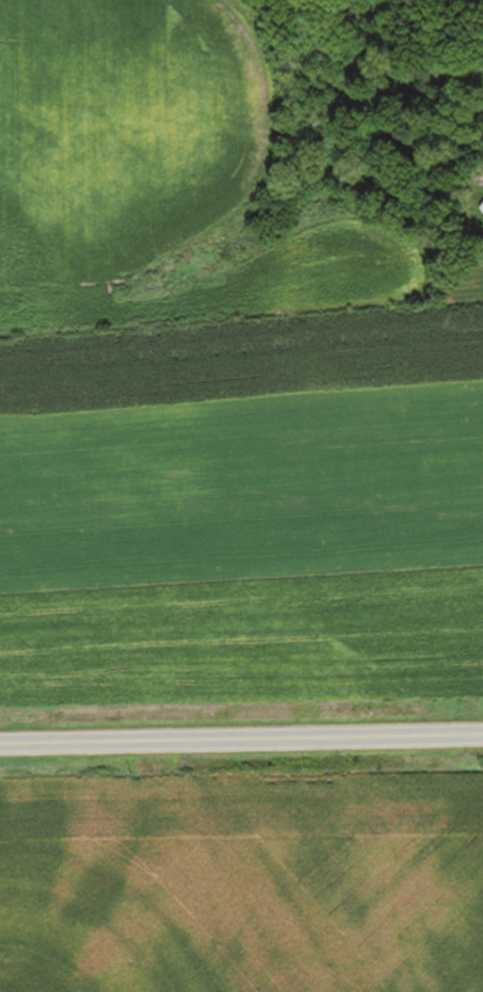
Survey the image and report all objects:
road: (241, 742)

